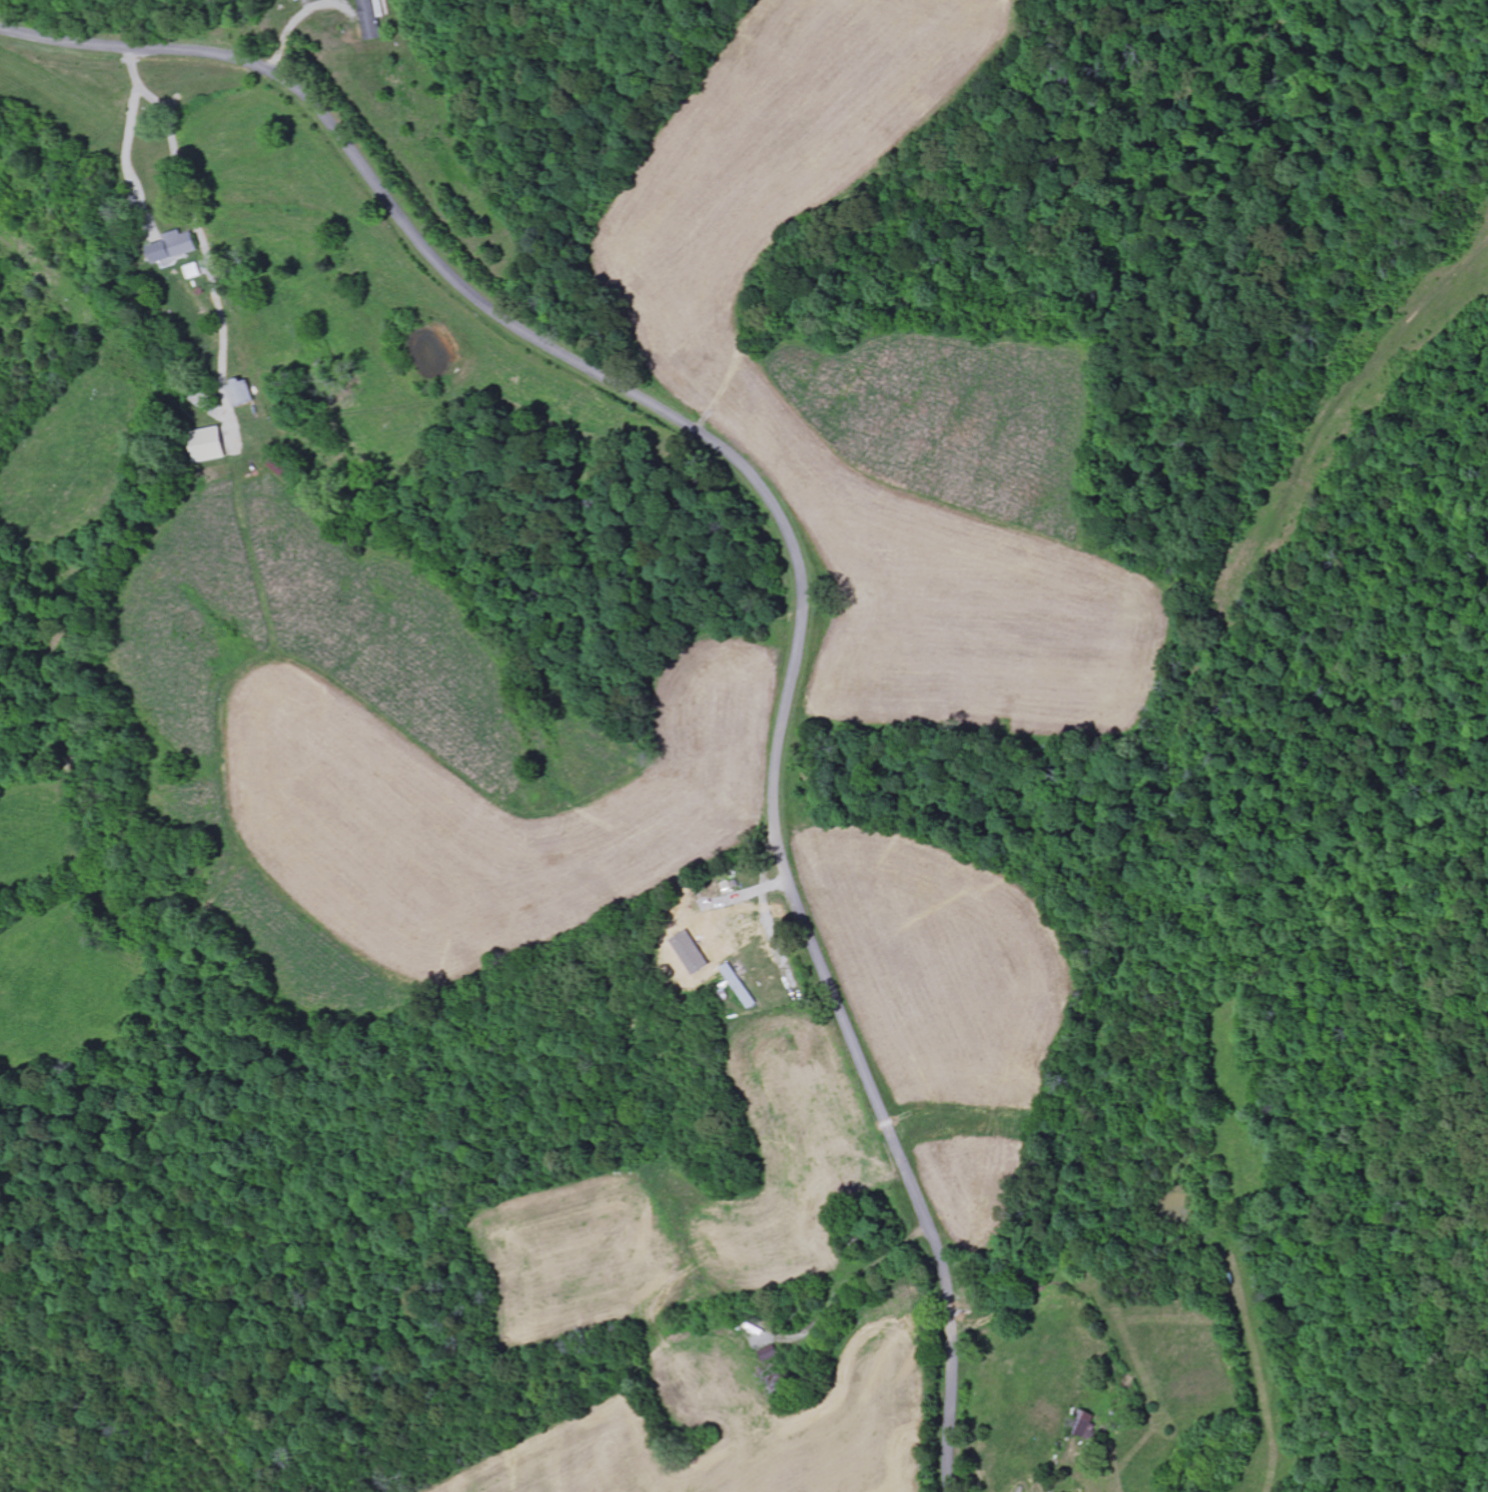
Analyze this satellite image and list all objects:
building: (373, 19)
road: (131, 133)
building: (171, 249)
building: (240, 392)
building: (208, 444)
road: (791, 541)
building: (740, 986)
building: (770, 1353)
building: (1089, 1424)

